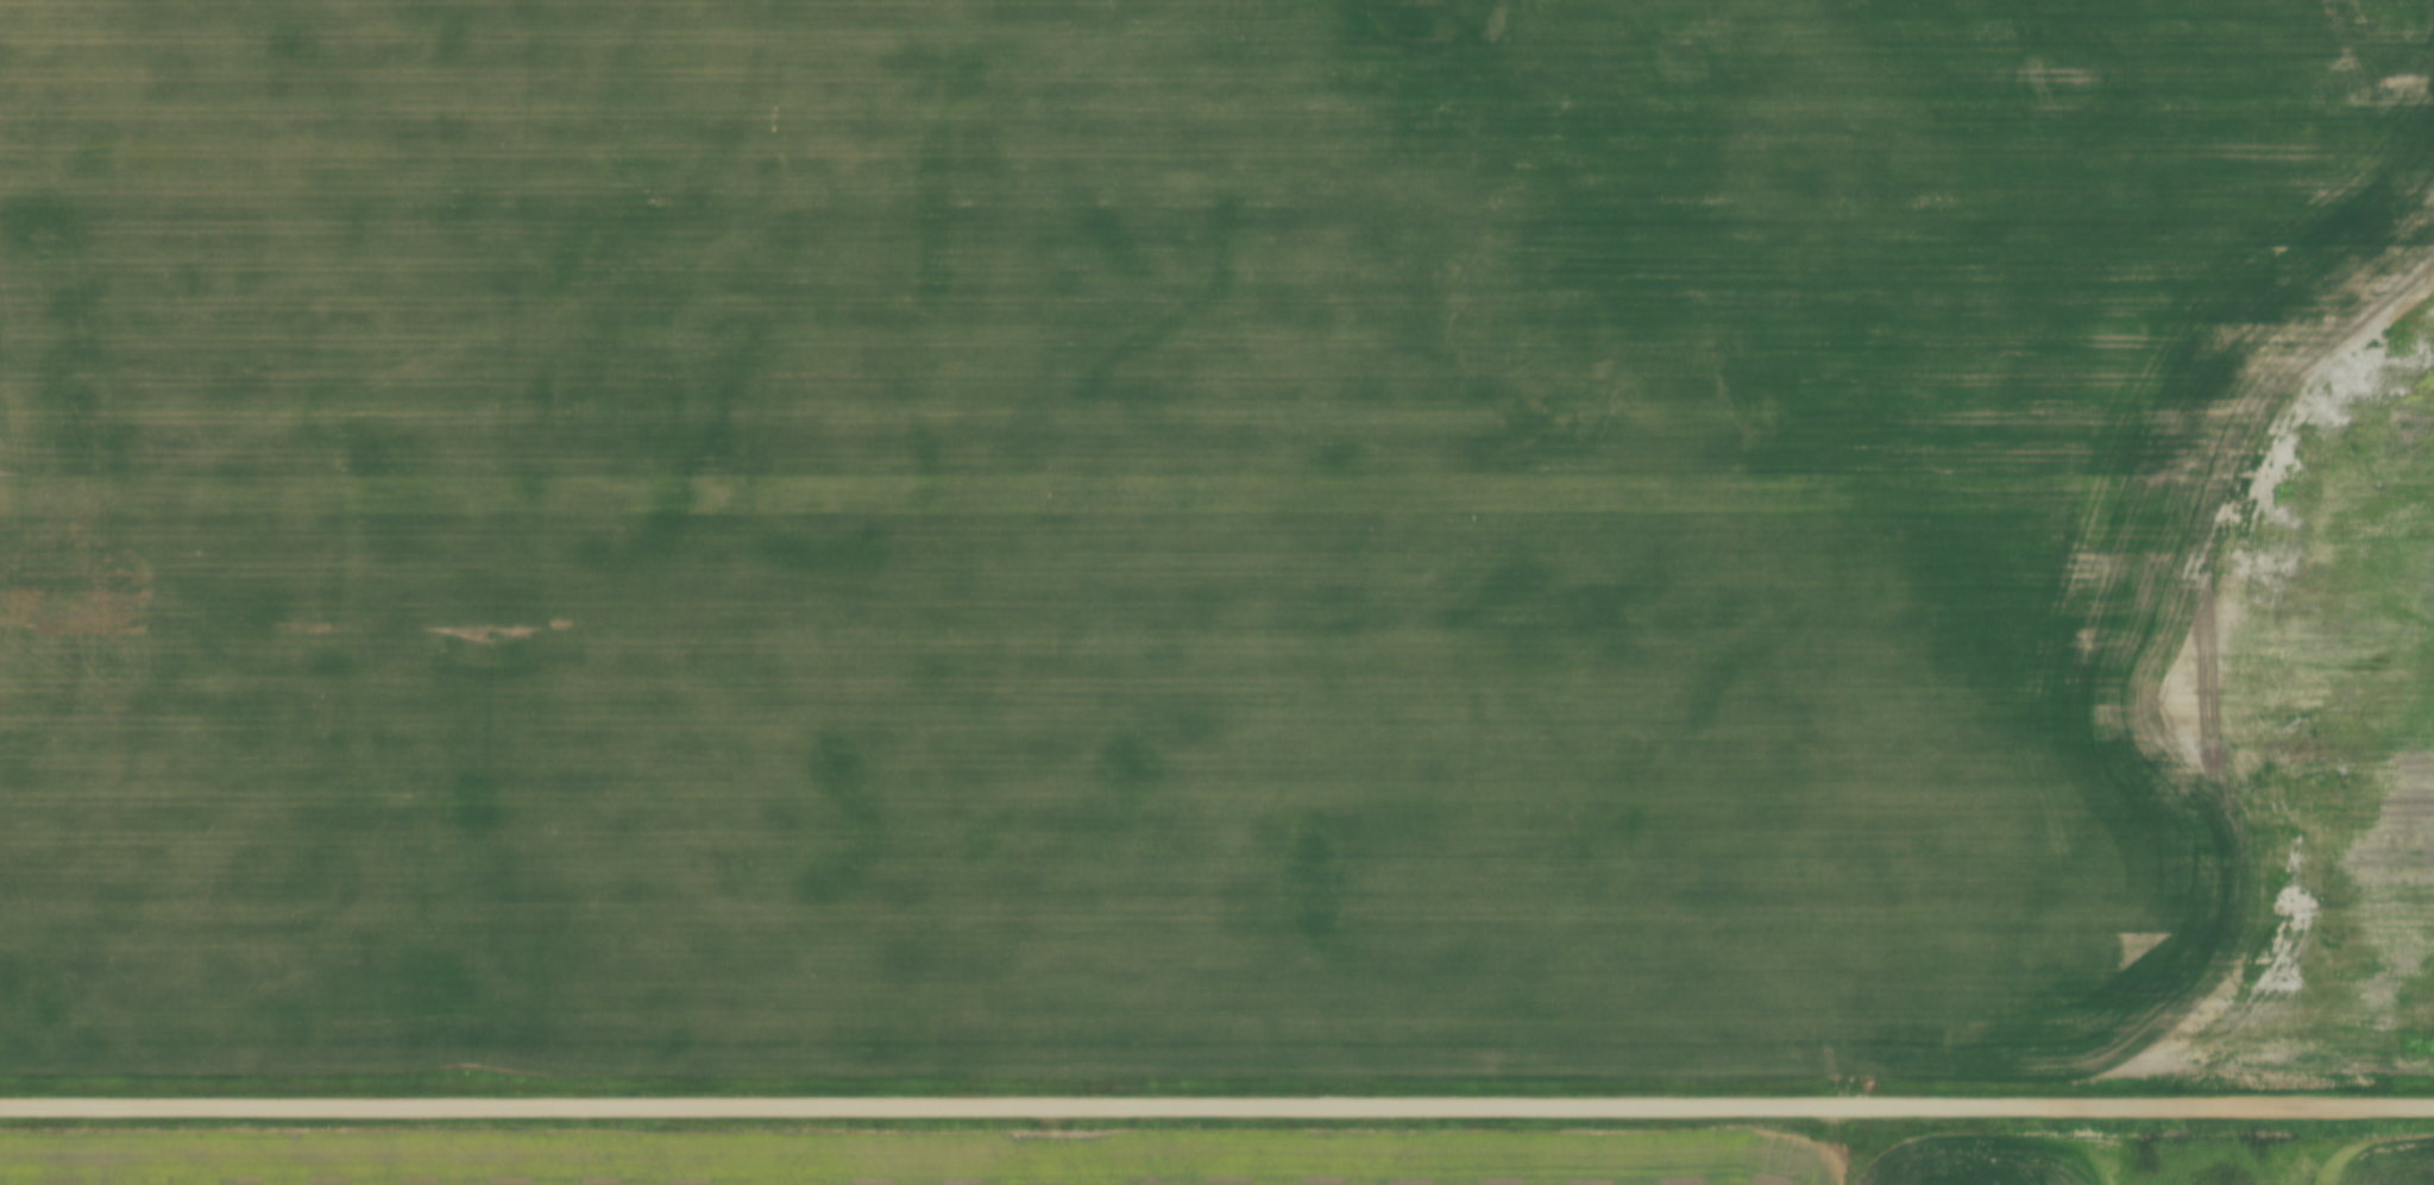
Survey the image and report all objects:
road: (1216, 1105)

